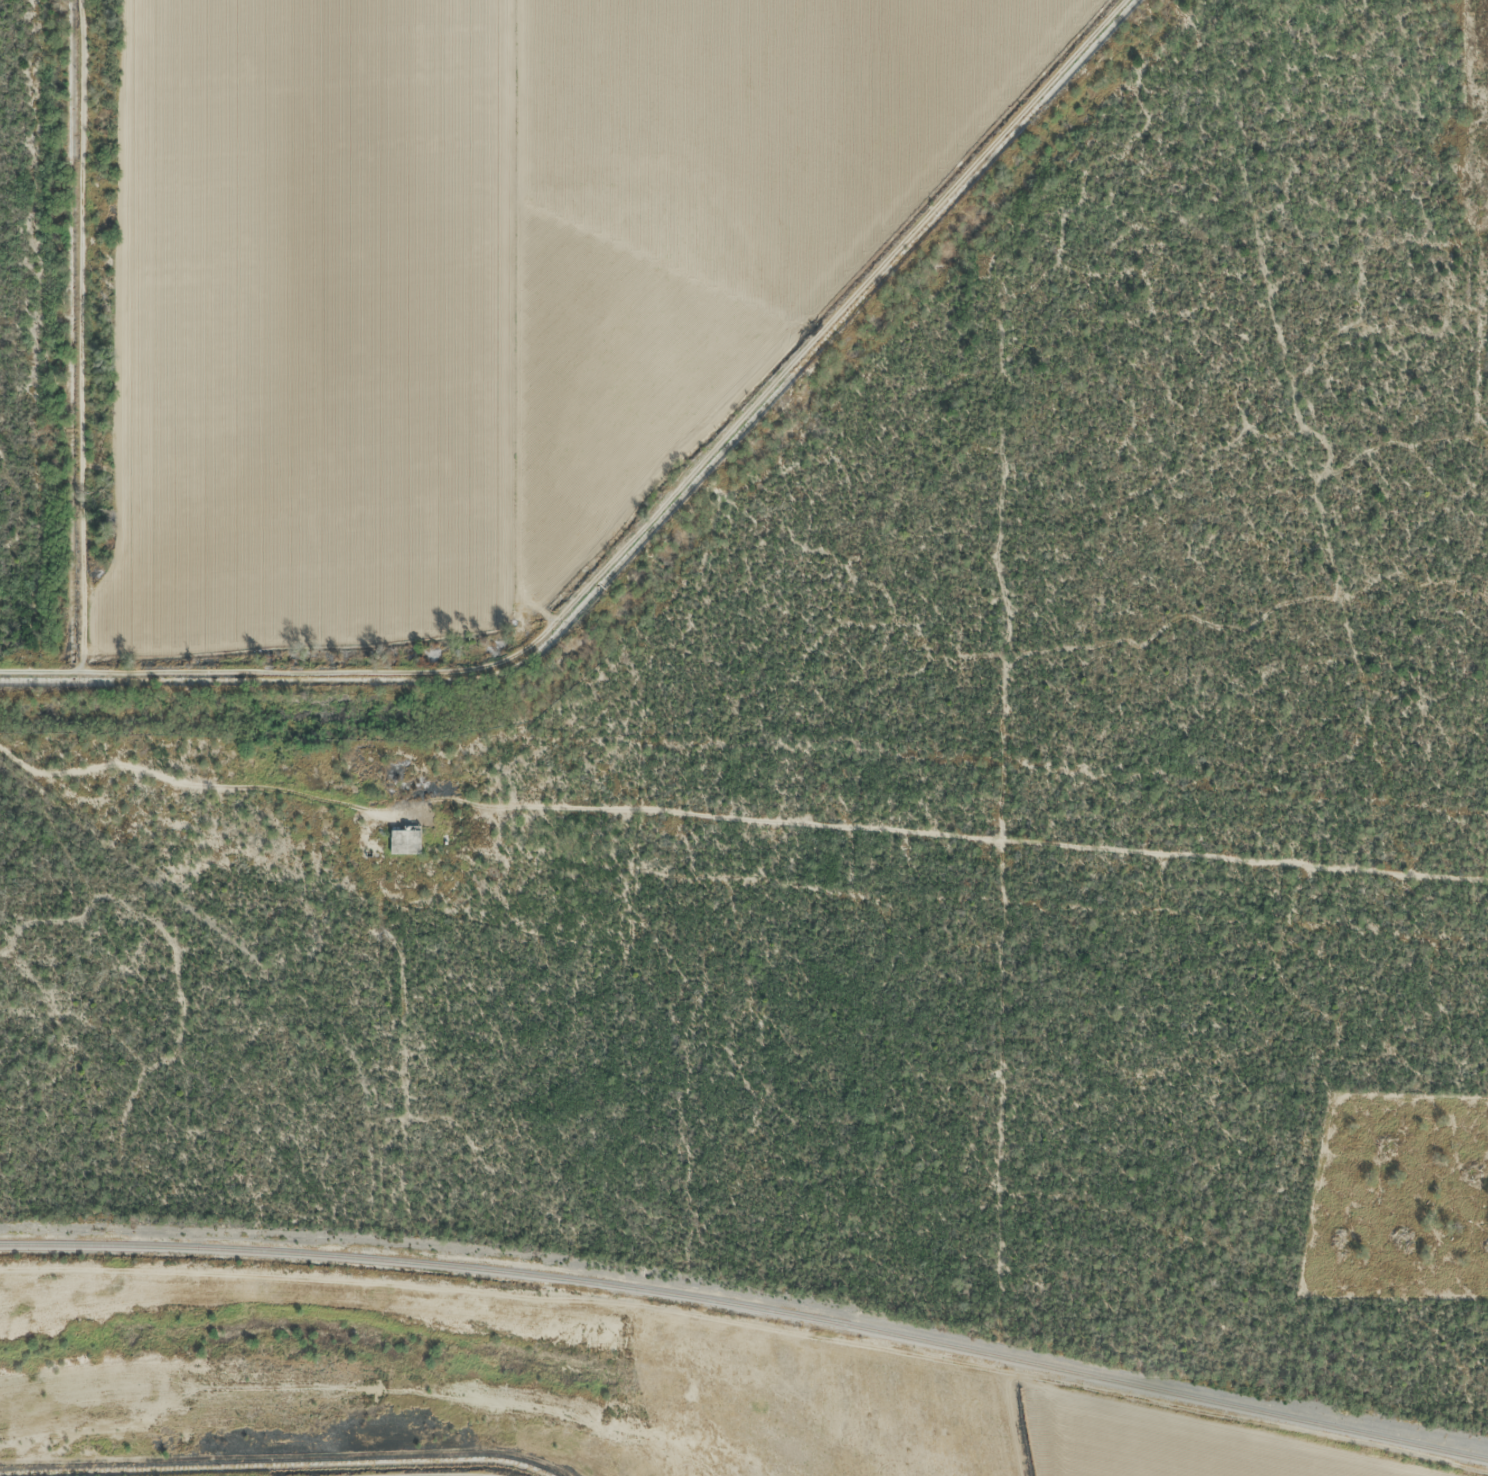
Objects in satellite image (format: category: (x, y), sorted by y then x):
railway: (749, 1309)

